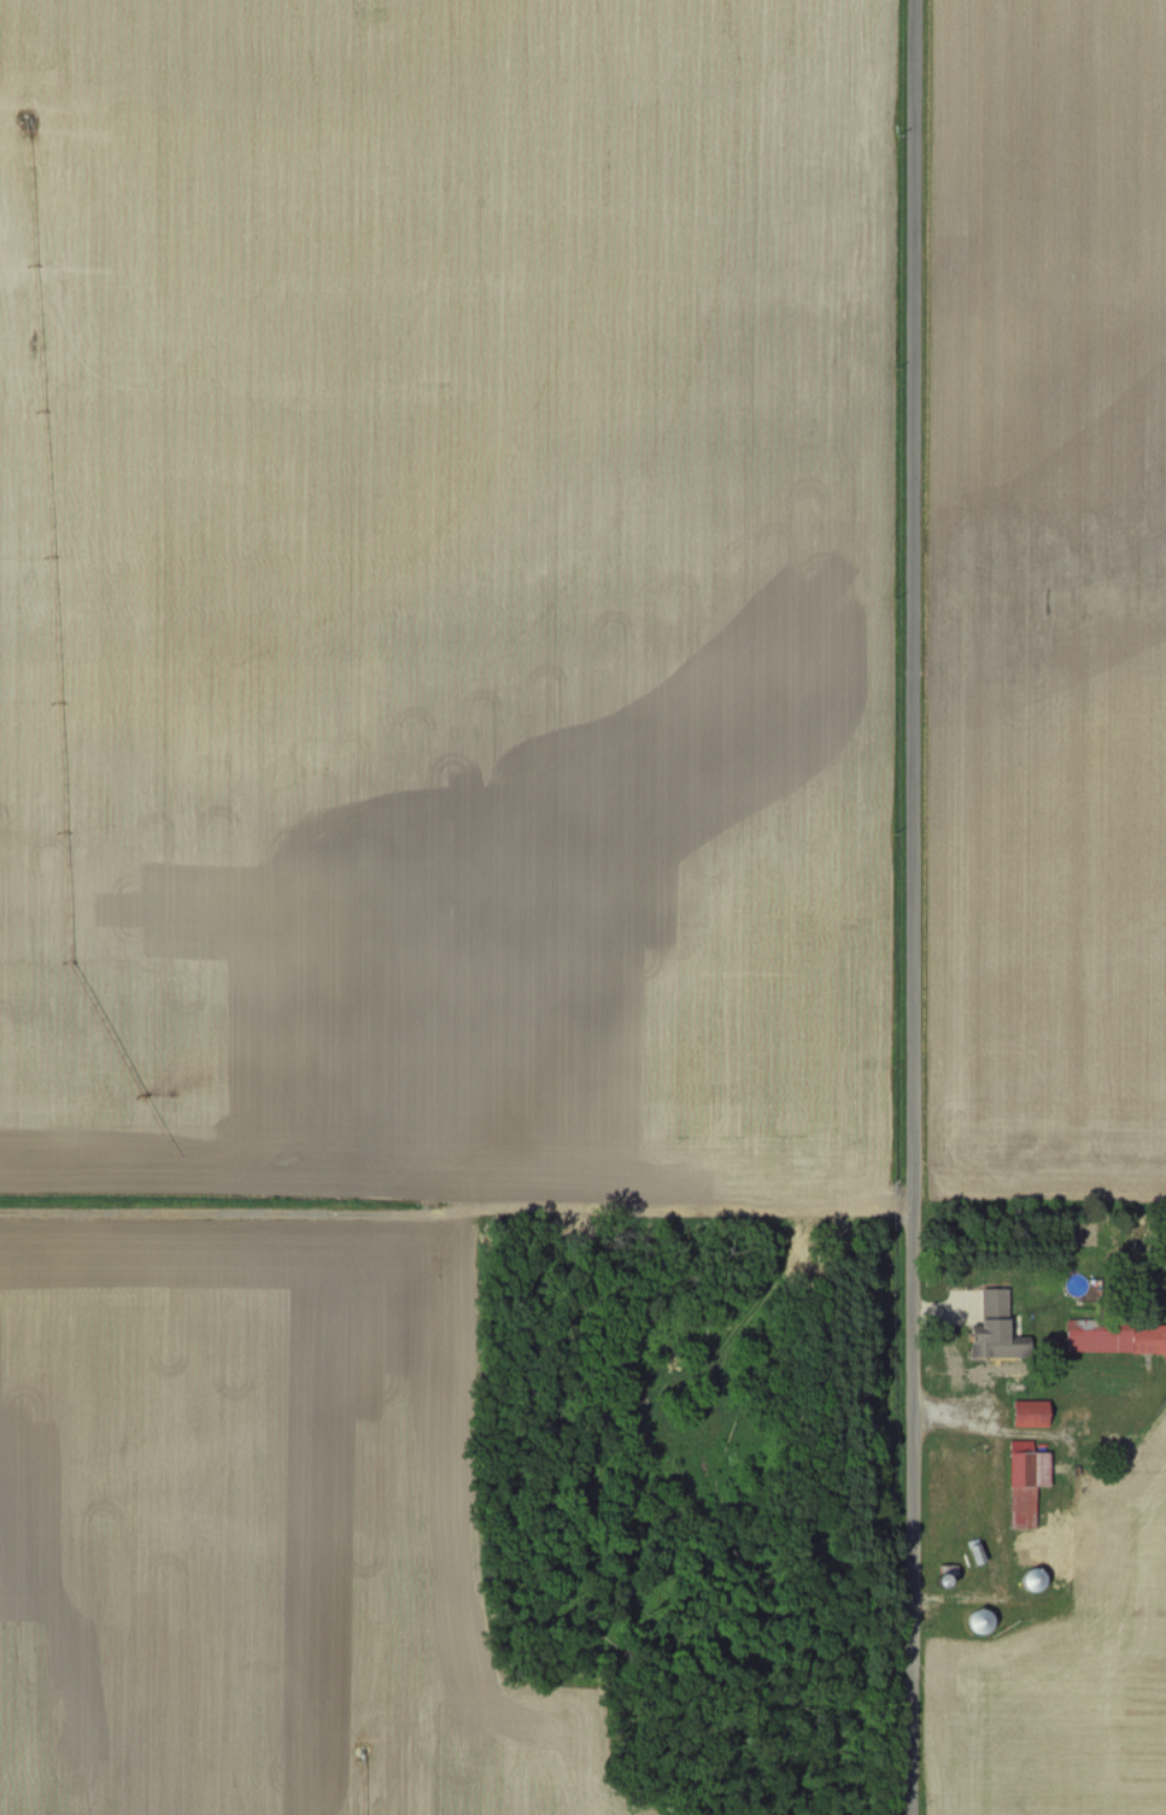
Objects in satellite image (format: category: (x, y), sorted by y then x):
road: (909, 907)
building: (988, 1325)
building: (1115, 1336)
building: (1026, 1412)
building: (1023, 1481)
building: (1023, 1552)
building: (1031, 1581)
building: (977, 1621)

